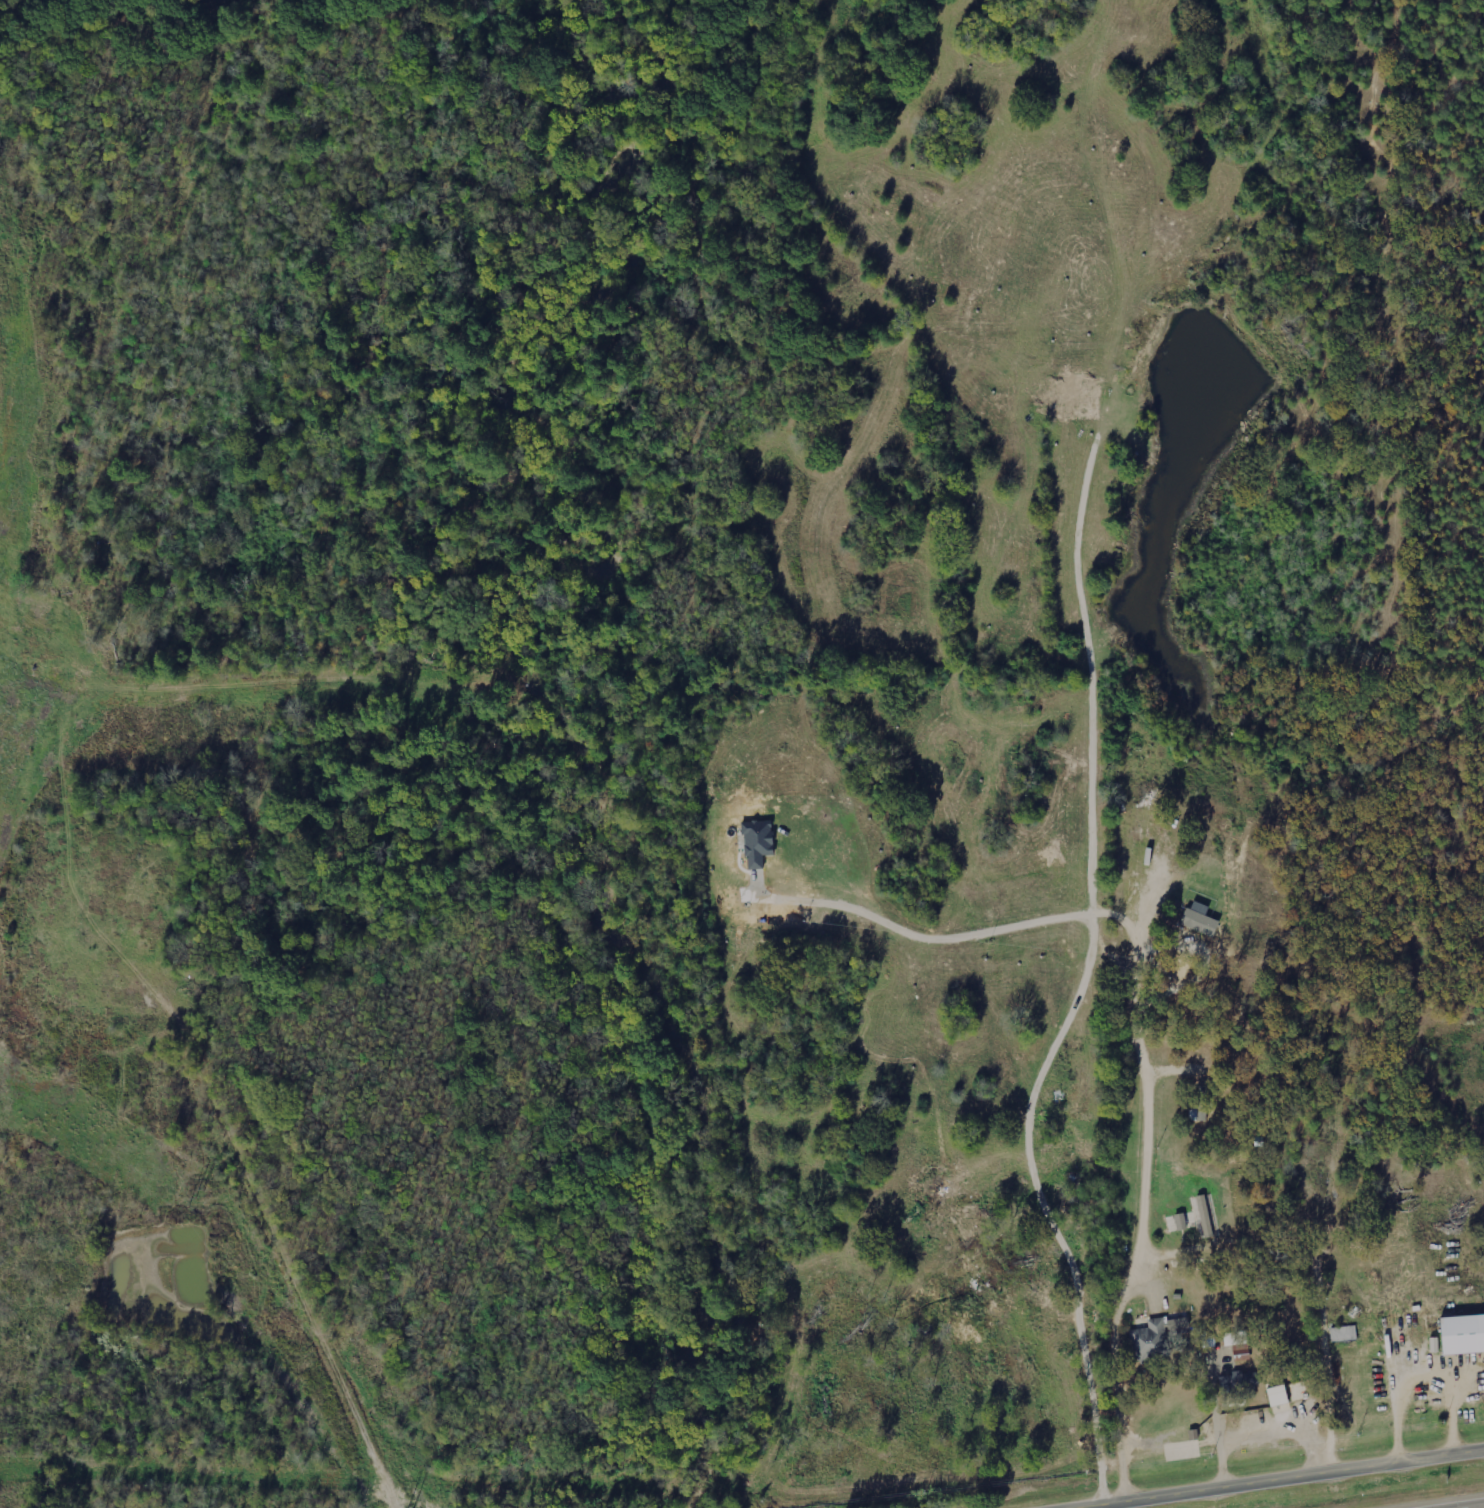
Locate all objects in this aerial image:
railway: (106, 26)
building: (1201, 919)
building: (1199, 1108)
building: (1209, 1215)
building: (1464, 1333)
building: (1156, 1337)
road: (1325, 1346)
building: (1241, 1380)
building: (1279, 1395)
road: (1215, 1404)
road: (1394, 1408)
road: (1265, 1435)
road: (1265, 1474)
road: (1437, 1501)

